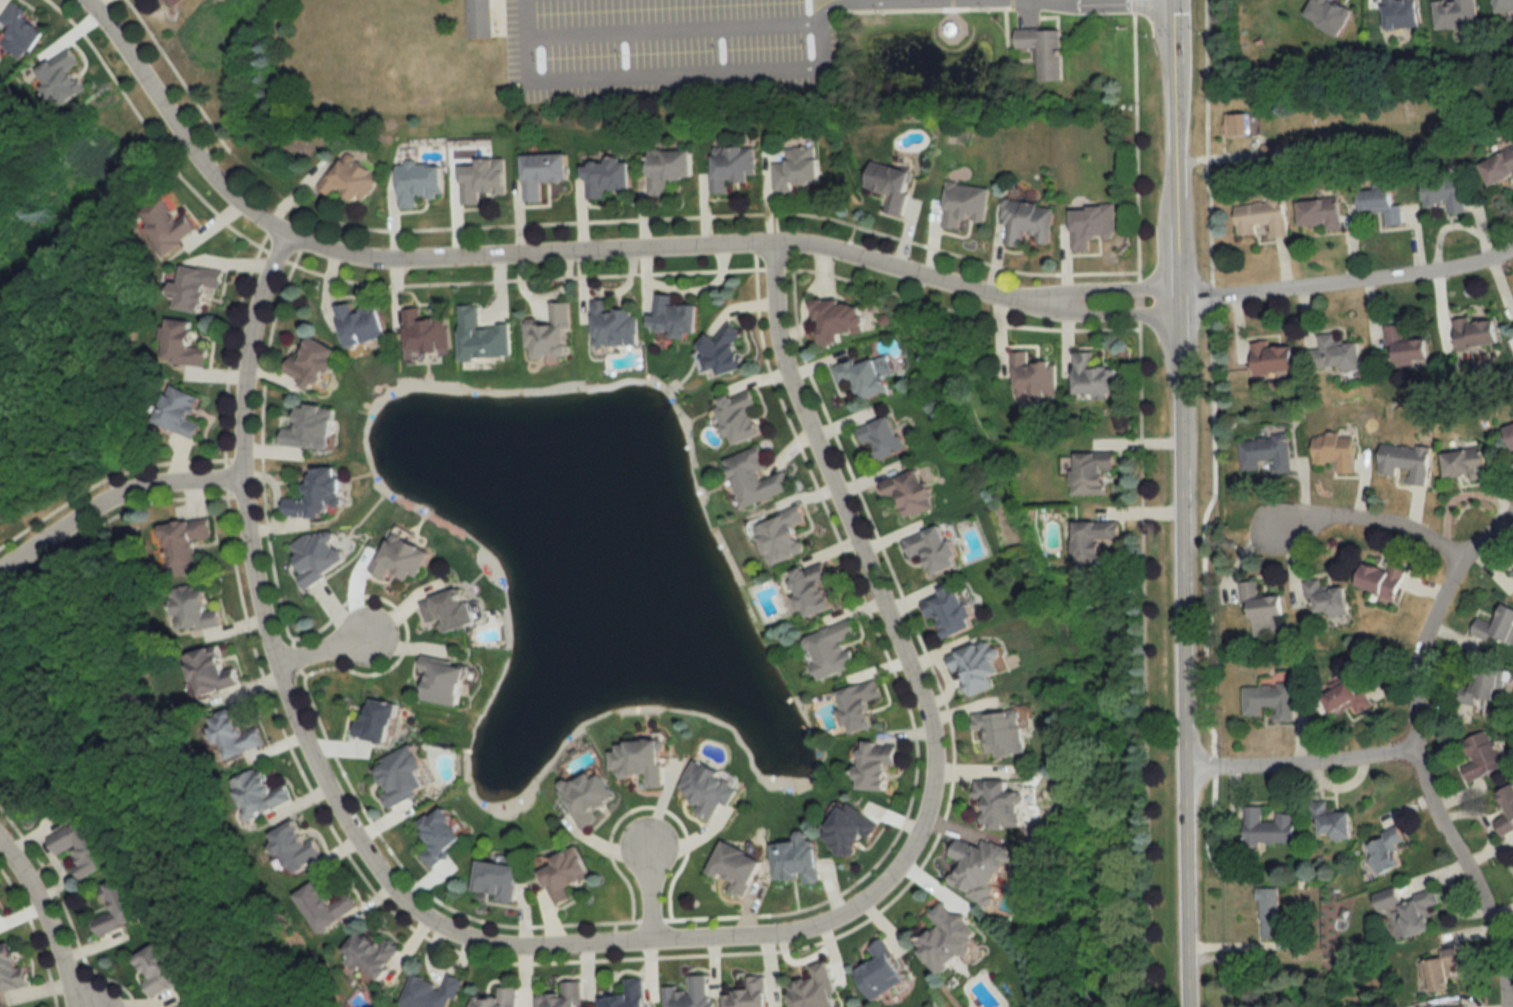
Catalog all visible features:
building: (177, 2)
building: (1504, 5)
building: (1403, 14)
building: (1457, 14)
building: (480, 18)
road: (672, 29)
building: (21, 32)
building: (1045, 51)
road: (676, 74)
building: (61, 79)
building: (1238, 125)
building: (732, 167)
building: (798, 168)
building: (670, 169)
building: (1500, 169)
building: (543, 174)
building: (351, 178)
building: (608, 178)
building: (483, 181)
building: (420, 183)
building: (892, 185)
building: (1446, 192)
building: (966, 204)
building: (1384, 204)
building: (1321, 213)
power tower: (45, 216)
building: (1263, 218)
building: (1028, 222)
building: (163, 223)
building: (1092, 225)
road: (512, 260)
road: (1348, 287)
building: (196, 288)
road: (1055, 303)
building: (674, 317)
building: (839, 320)
building: (362, 324)
building: (614, 325)
building: (426, 333)
building: (550, 334)
building: (1477, 334)
building: (483, 337)
building: (183, 344)
building: (1408, 348)
building: (724, 353)
building: (1339, 354)
building: (1274, 359)
building: (313, 366)
building: (865, 377)
building: (1032, 377)
building: (1095, 379)
building: (181, 412)
building: (741, 417)
building: (308, 428)
building: (1510, 433)
building: (884, 437)
building: (1336, 451)
building: (1265, 453)
building: (1406, 463)
building: (1466, 465)
building: (1093, 474)
building: (756, 479)
road: (152, 492)
building: (911, 492)
building: (317, 495)
road: (1180, 503)
road: (1375, 518)
building: (783, 537)
building: (1094, 541)
building: (184, 547)
building: (935, 549)
road: (34, 553)
building: (400, 556)
building: (319, 557)
building: (1382, 580)
building: (814, 590)
building: (1328, 599)
building: (1263, 606)
building: (197, 610)
building: (450, 610)
building: (951, 611)
road: (1431, 614)
building: (1498, 627)
building: (4, 642)
building: (833, 648)
road: (327, 655)
building: (979, 666)
building: (211, 671)
building: (444, 682)
building: (1483, 685)
road: (918, 688)
building: (1348, 699)
building: (1269, 701)
building: (861, 705)
road: (294, 711)
building: (378, 722)
building: (1004, 731)
building: (234, 735)
building: (1482, 756)
building: (640, 759)
road: (1299, 762)
building: (878, 765)
building: (402, 775)
building: (710, 787)
building: (260, 793)
building: (588, 795)
building: (1001, 802)
building: (1508, 803)
building: (1333, 821)
building: (1269, 827)
building: (851, 830)
building: (441, 837)
building: (83, 845)
building: (297, 845)
building: (1387, 851)
building: (799, 859)
building: (739, 867)
building: (980, 868)
building: (566, 873)
road: (1470, 873)
building: (498, 879)
road: (653, 894)
building: (326, 905)
building: (120, 906)
building: (1410, 908)
building: (0, 912)
building: (1269, 913)
road: (47, 923)
building: (949, 938)
building: (371, 952)
building: (12, 967)
building: (162, 968)
building: (1441, 969)
building: (884, 970)
building: (817, 989)
building: (431, 992)
building: (692, 993)
building: (751, 994)
building: (629, 995)
building: (565, 996)
building: (499, 998)
building: (1448, 1006)

